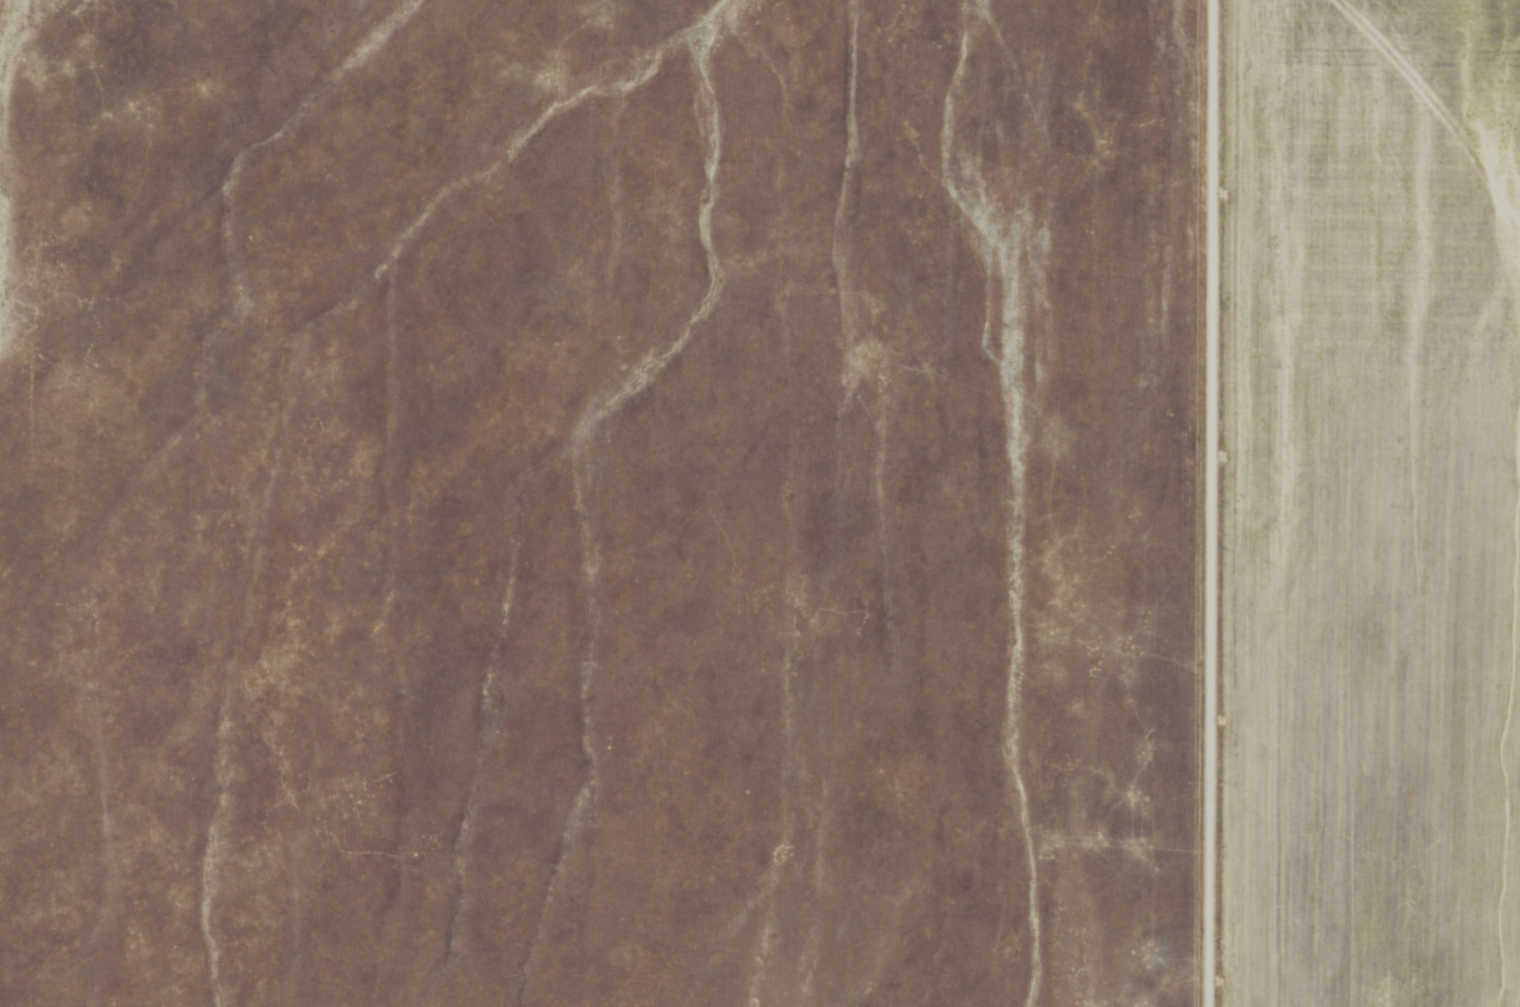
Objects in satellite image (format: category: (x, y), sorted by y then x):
road: (1213, 503)

